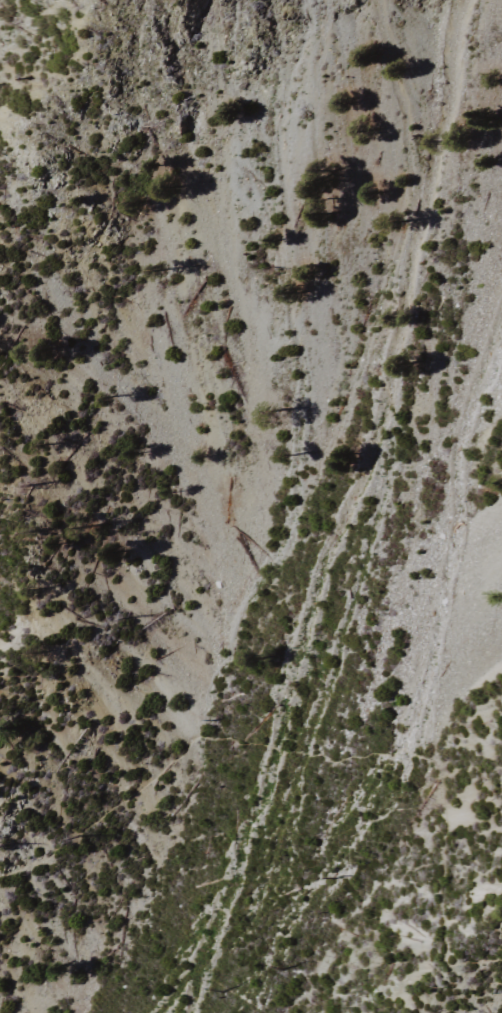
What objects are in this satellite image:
road: (323, 758)

